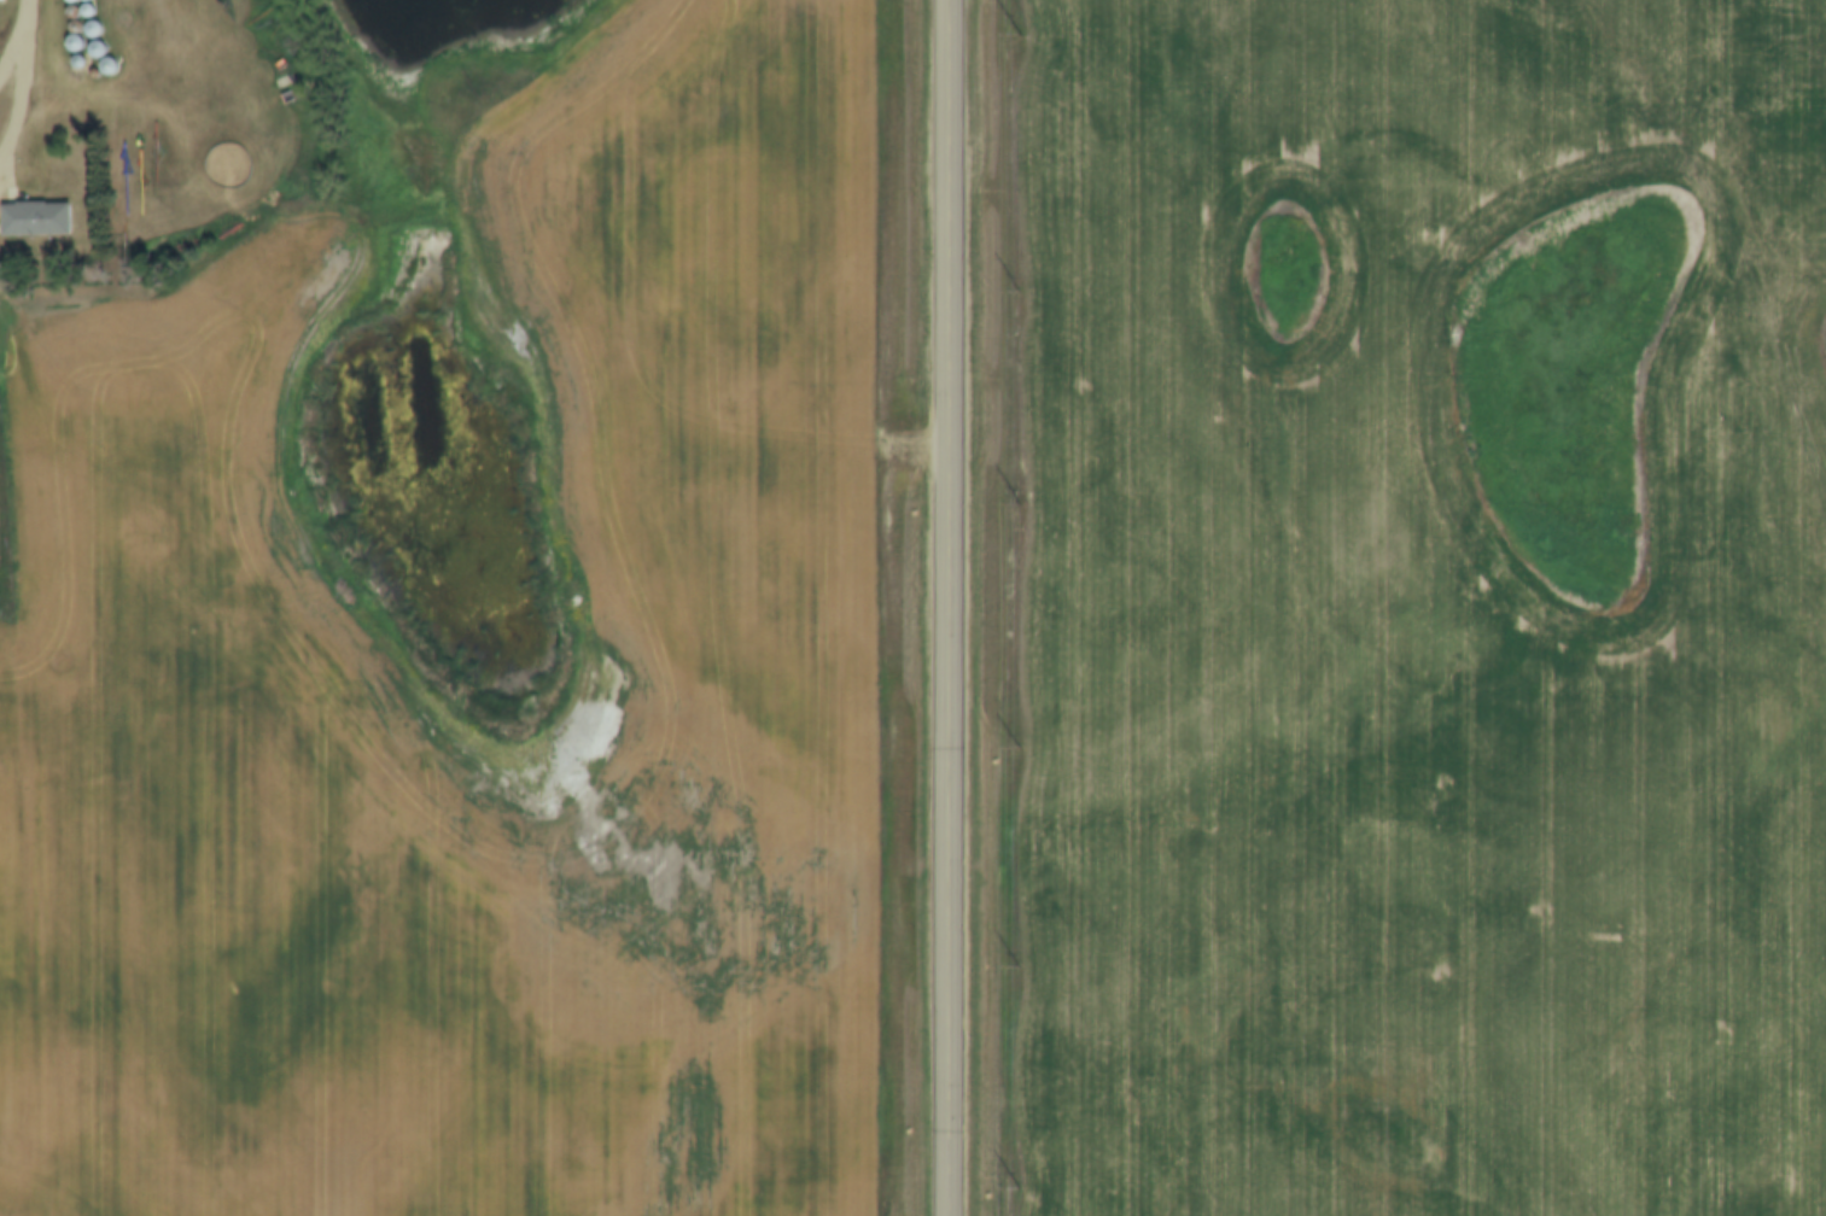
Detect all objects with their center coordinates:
road: (162, 19)
road: (19, 69)
building: (33, 217)
road: (947, 608)
road: (33, 905)

